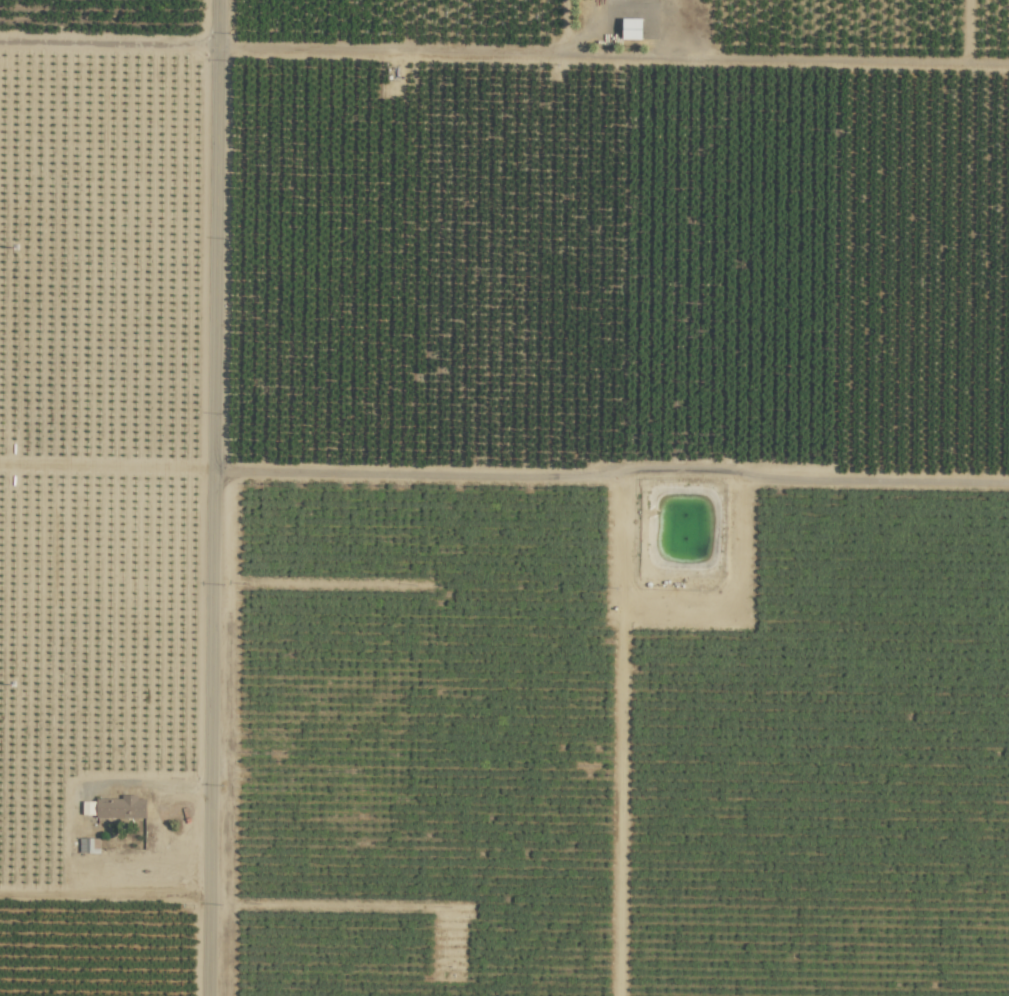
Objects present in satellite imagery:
road: (627, 3)
building: (631, 28)
road: (109, 48)
road: (613, 54)
road: (407, 473)
road: (211, 497)
building: (88, 807)
building: (120, 807)
building: (88, 845)

